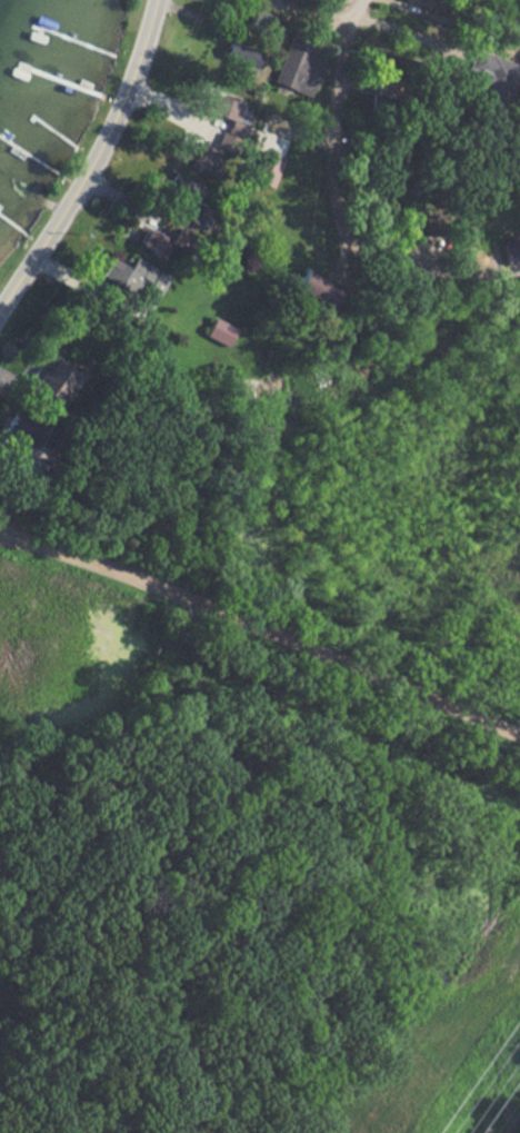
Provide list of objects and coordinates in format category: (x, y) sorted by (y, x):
road: (317, 10)
road: (351, 10)
building: (276, 24)
road: (403, 32)
building: (243, 56)
building: (519, 59)
building: (299, 66)
building: (489, 73)
building: (382, 89)
building: (221, 109)
building: (198, 155)
road: (94, 162)
building: (263, 171)
building: (176, 187)
road: (343, 213)
building: (431, 226)
building: (143, 240)
building: (132, 278)
building: (312, 289)
building: (222, 331)
building: (46, 380)
building: (27, 433)
road: (262, 624)
park: (241, 883)
road: (263, 981)

